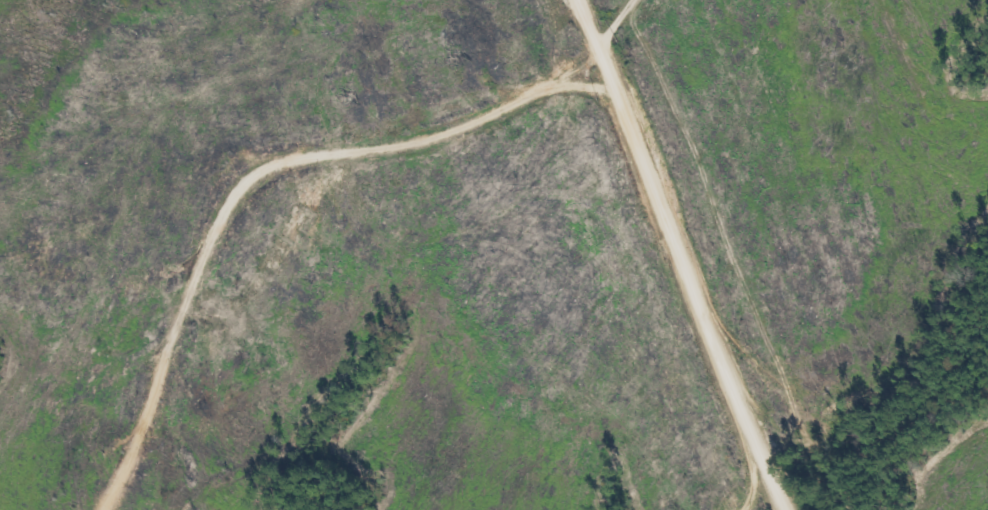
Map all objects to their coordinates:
road: (294, 178)
road: (673, 258)
road: (714, 460)

